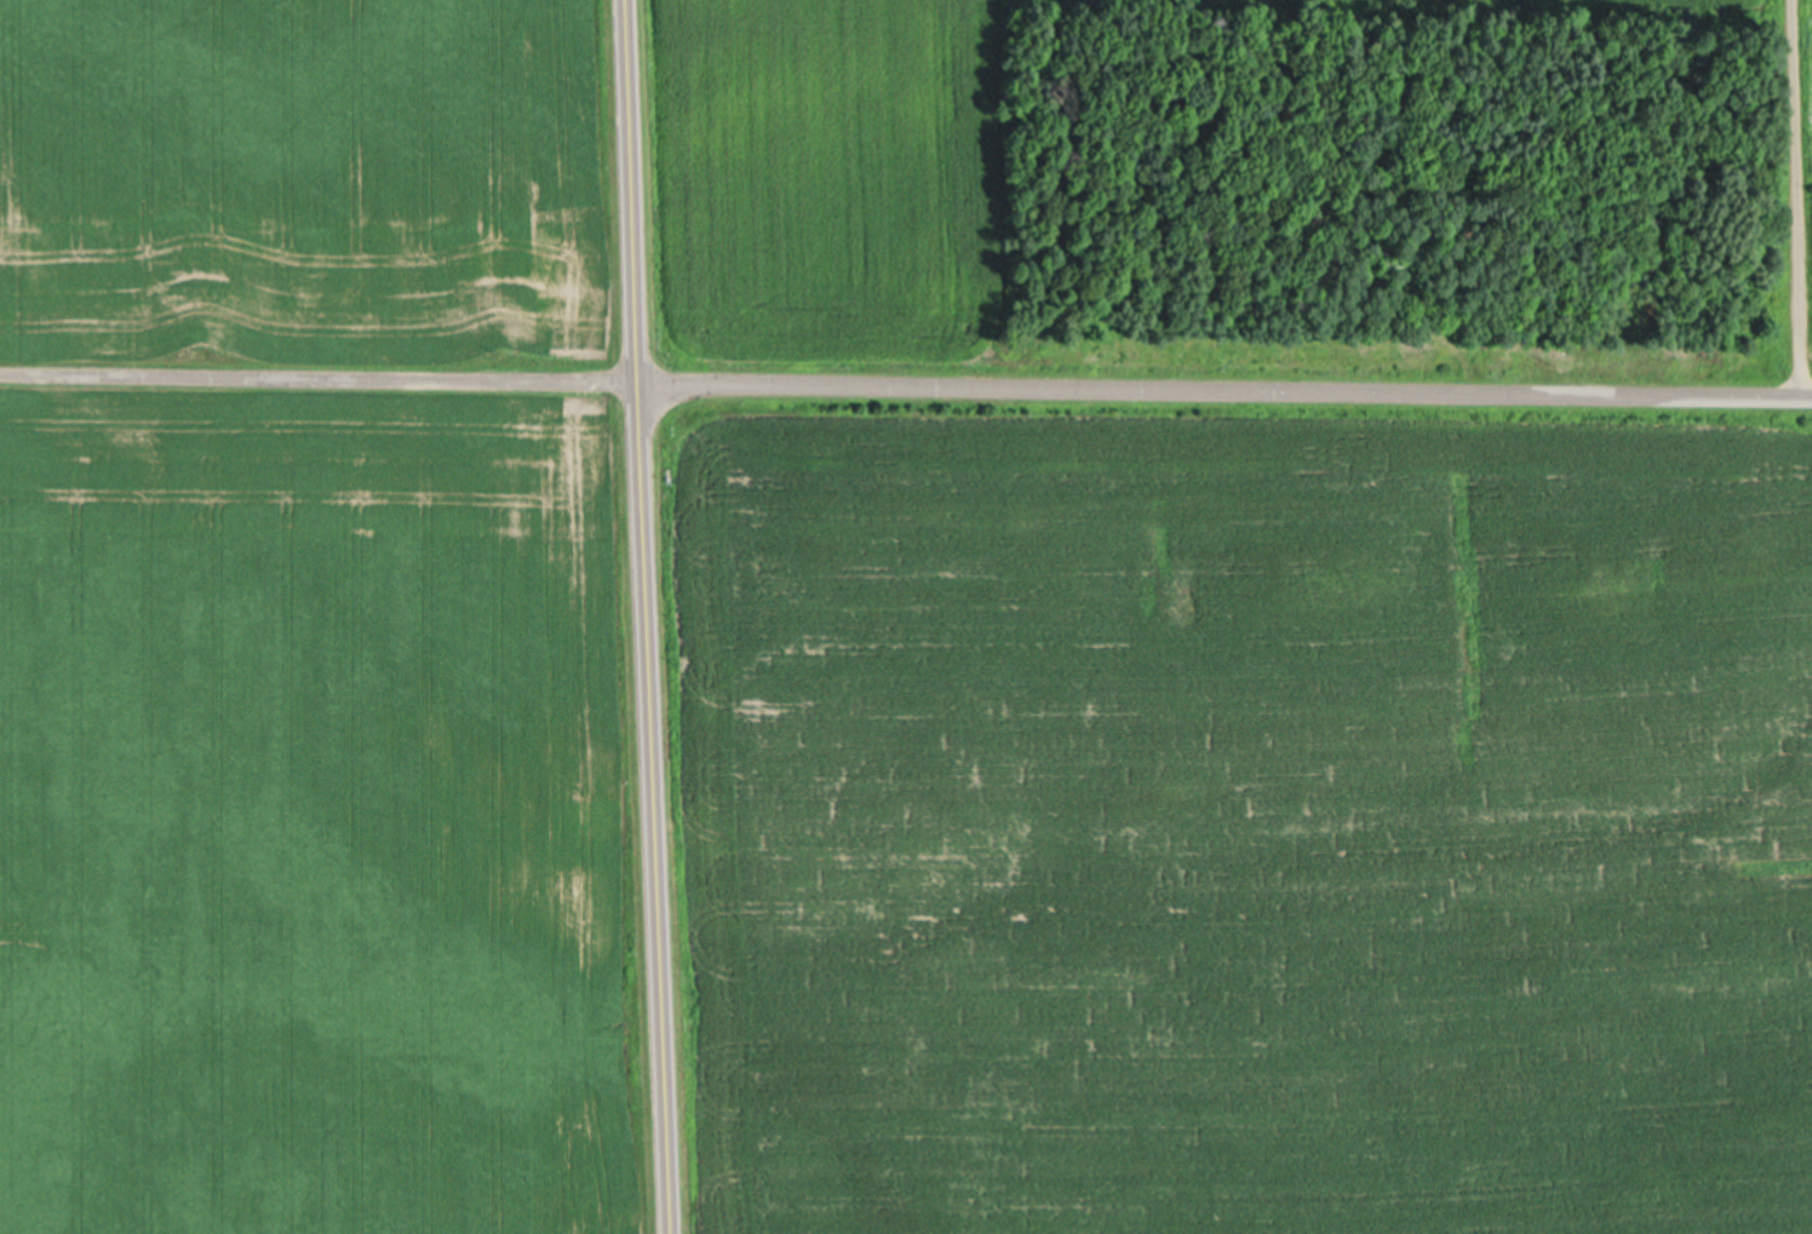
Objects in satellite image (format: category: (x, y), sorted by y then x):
crop: (820, 185)
road: (1797, 196)
road: (906, 378)
road: (652, 616)
crop: (326, 624)

